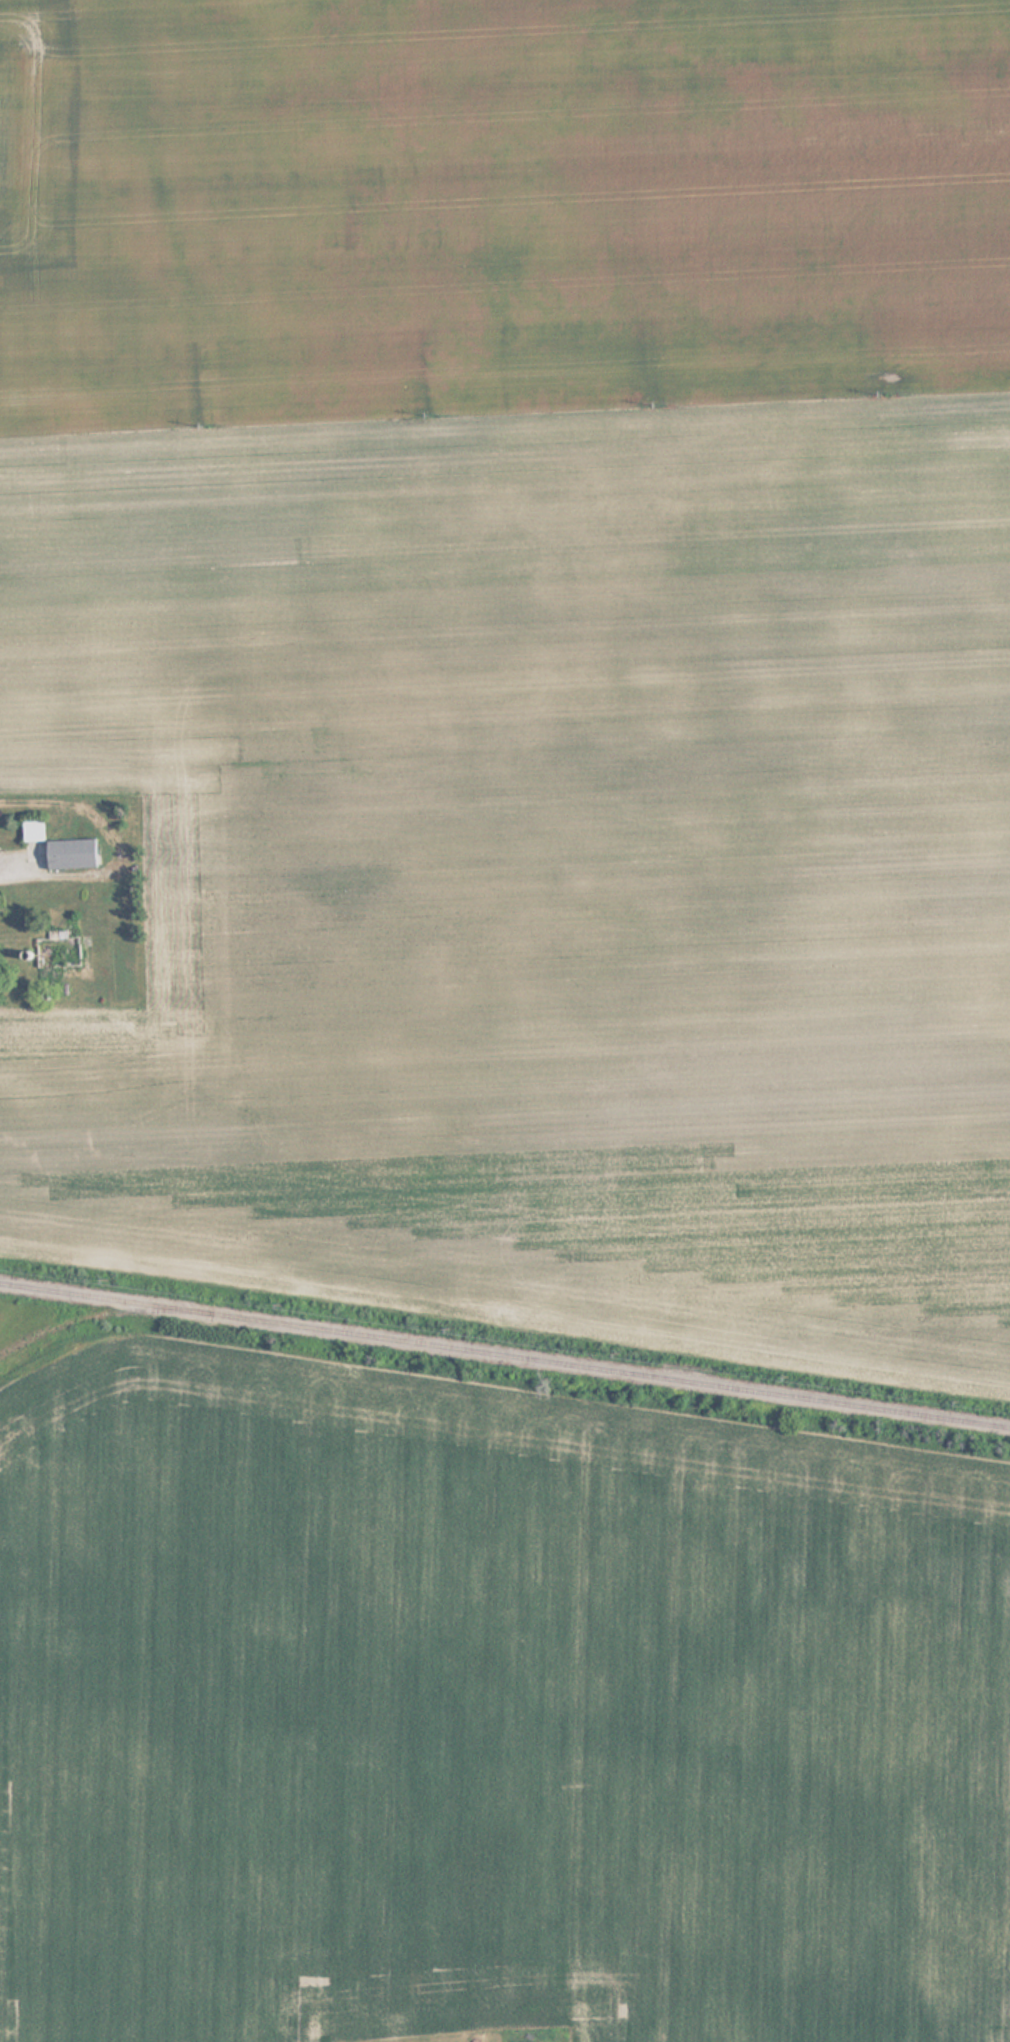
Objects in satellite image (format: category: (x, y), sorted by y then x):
building: (67, 854)
railway: (505, 1357)

